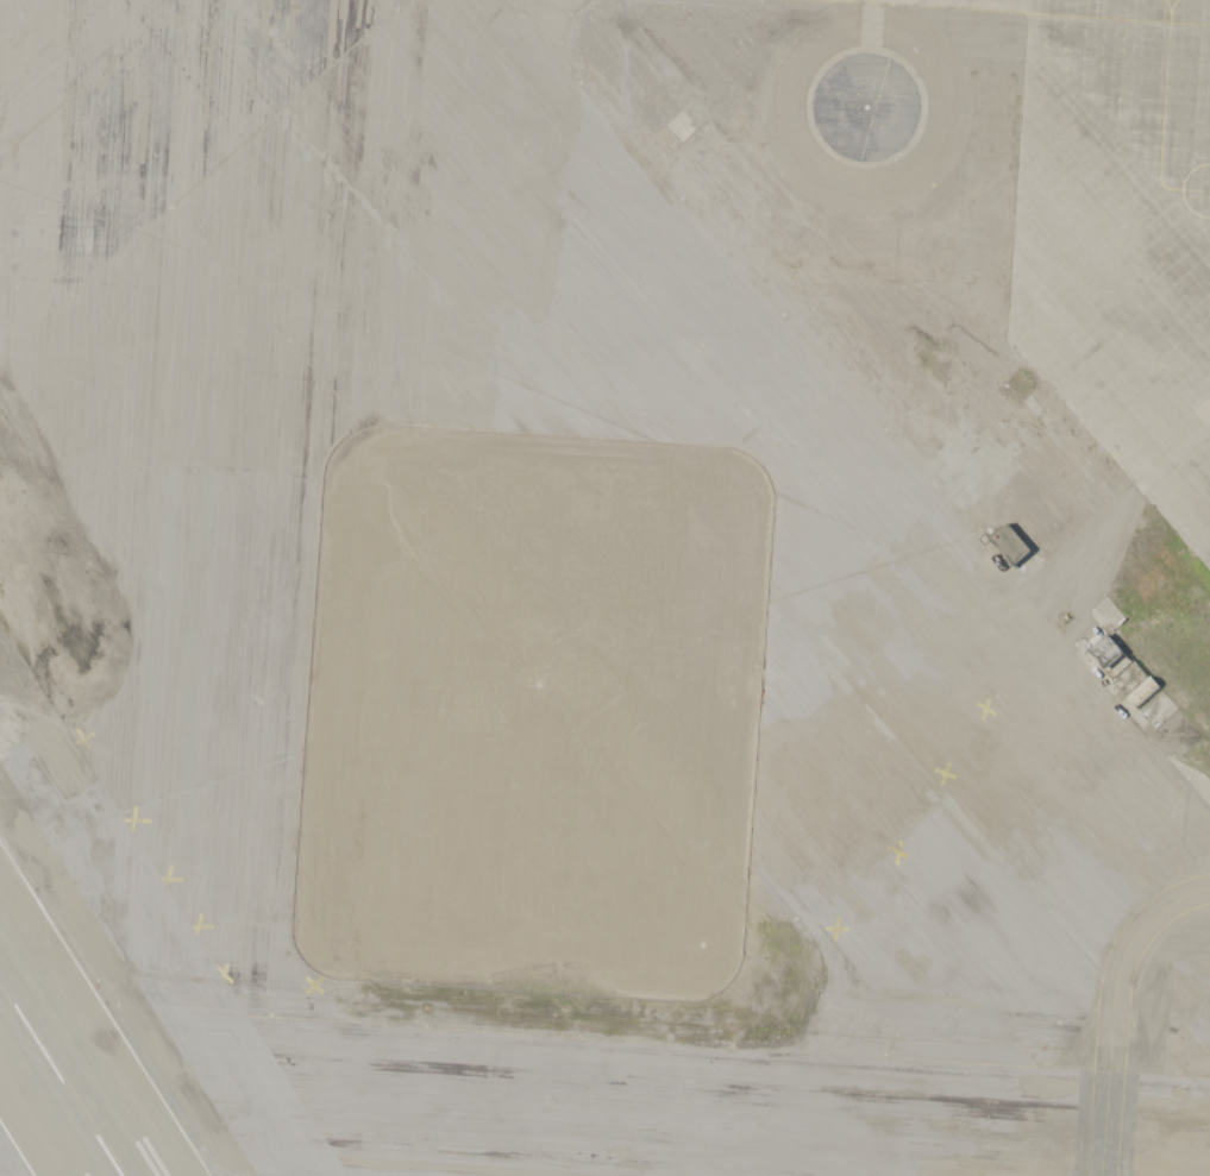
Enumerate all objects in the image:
building: (1110, 656)

